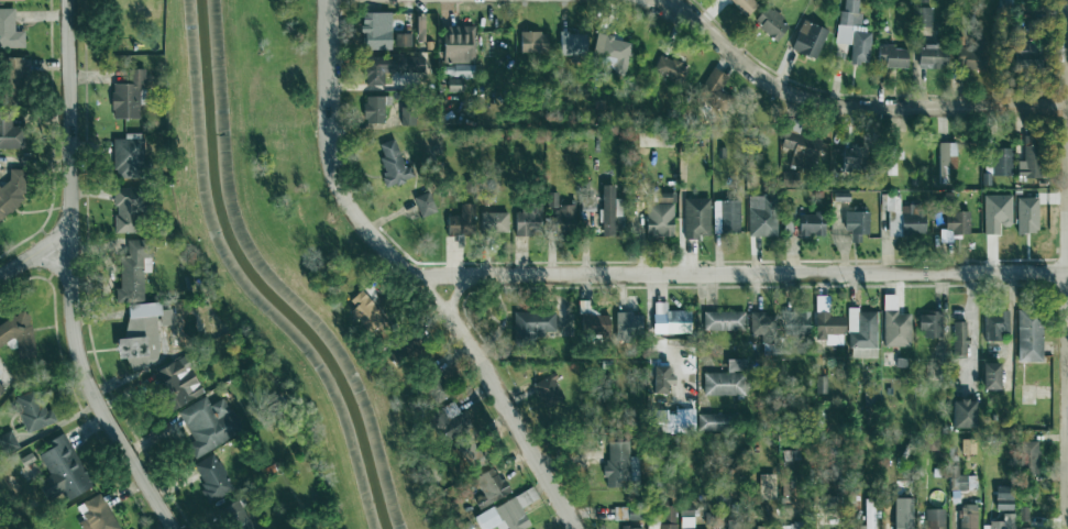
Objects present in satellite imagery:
building: (10, 0)
building: (1003, 1)
road: (659, 2)
building: (742, 4)
building: (921, 15)
building: (768, 23)
building: (418, 29)
building: (8, 30)
building: (374, 30)
building: (851, 32)
building: (807, 38)
building: (401, 40)
building: (530, 42)
building: (570, 43)
building: (455, 44)
building: (1023, 49)
building: (609, 53)
building: (890, 55)
building: (927, 55)
building: (968, 56)
building: (386, 67)
building: (669, 68)
building: (462, 70)
building: (11, 81)
building: (453, 84)
building: (125, 95)
road: (851, 107)
building: (372, 109)
building: (405, 115)
building: (10, 134)
building: (799, 147)
building: (125, 155)
building: (1027, 157)
building: (849, 158)
building: (943, 158)
building: (890, 161)
building: (1000, 161)
building: (390, 164)
building: (11, 190)
building: (422, 203)
building: (125, 209)
building: (606, 209)
building: (994, 212)
building: (559, 213)
building: (1025, 214)
building: (658, 216)
building: (723, 216)
building: (759, 216)
building: (694, 217)
building: (900, 217)
building: (460, 220)
building: (955, 221)
building: (492, 222)
building: (525, 223)
building: (808, 224)
building: (854, 224)
road: (35, 249)
road: (1067, 260)
road: (1066, 264)
road: (46, 265)
road: (1067, 271)
building: (131, 272)
road: (739, 273)
road: (411, 274)
road: (71, 276)
river: (263, 279)
road: (456, 295)
building: (357, 309)
building: (667, 320)
building: (626, 321)
building: (722, 321)
building: (794, 322)
building: (825, 322)
building: (530, 323)
building: (593, 323)
building: (759, 323)
building: (928, 324)
building: (993, 324)
road: (973, 330)
building: (1027, 332)
building: (140, 333)
building: (860, 333)
building: (16, 334)
road: (650, 335)
building: (957, 338)
building: (403, 342)
building: (0, 368)
building: (0, 368)
building: (989, 376)
building: (659, 377)
building: (724, 379)
building: (174, 383)
building: (819, 385)
building: (432, 387)
building: (0, 389)
building: (547, 390)
building: (869, 397)
building: (30, 409)
building: (960, 414)
building: (674, 419)
building: (442, 420)
building: (709, 421)
building: (206, 425)
building: (7, 442)
building: (469, 455)
building: (1026, 456)
building: (616, 464)
building: (59, 470)
building: (210, 477)
building: (961, 481)
building: (491, 484)
building: (764, 486)
building: (784, 487)
building: (1001, 497)
building: (624, 513)
building: (93, 514)
building: (504, 514)
building: (868, 514)
building: (1021, 514)
building: (684, 515)
building: (233, 516)
building: (661, 517)
building: (965, 517)
building: (933, 518)
building: (731, 526)
building: (789, 526)
building: (628, 527)
building: (997, 527)
building: (1025, 528)

